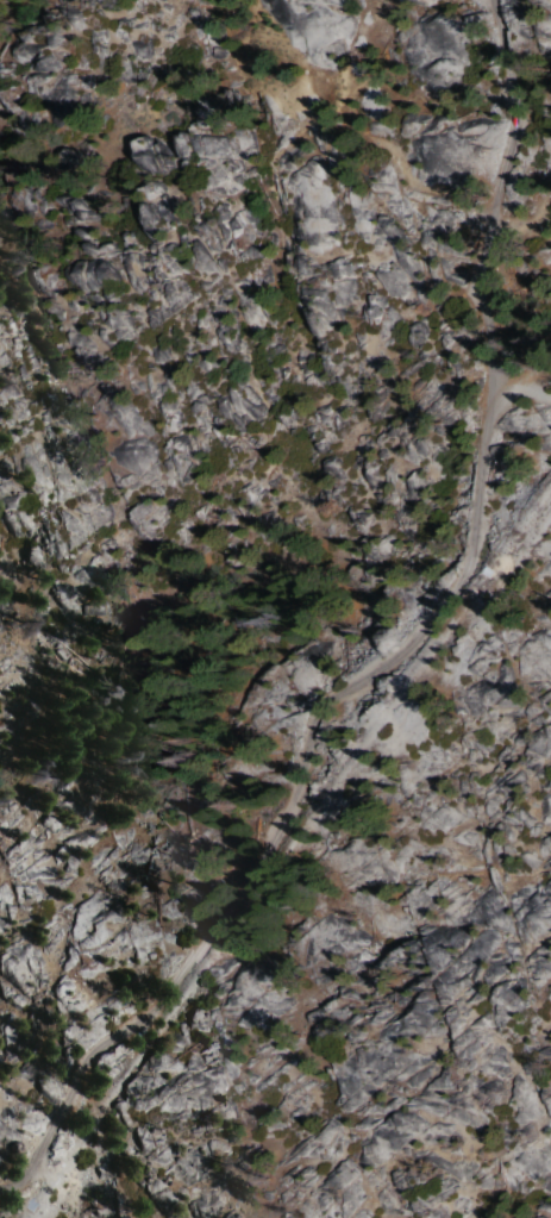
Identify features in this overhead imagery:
road: (520, 387)
road: (393, 648)

